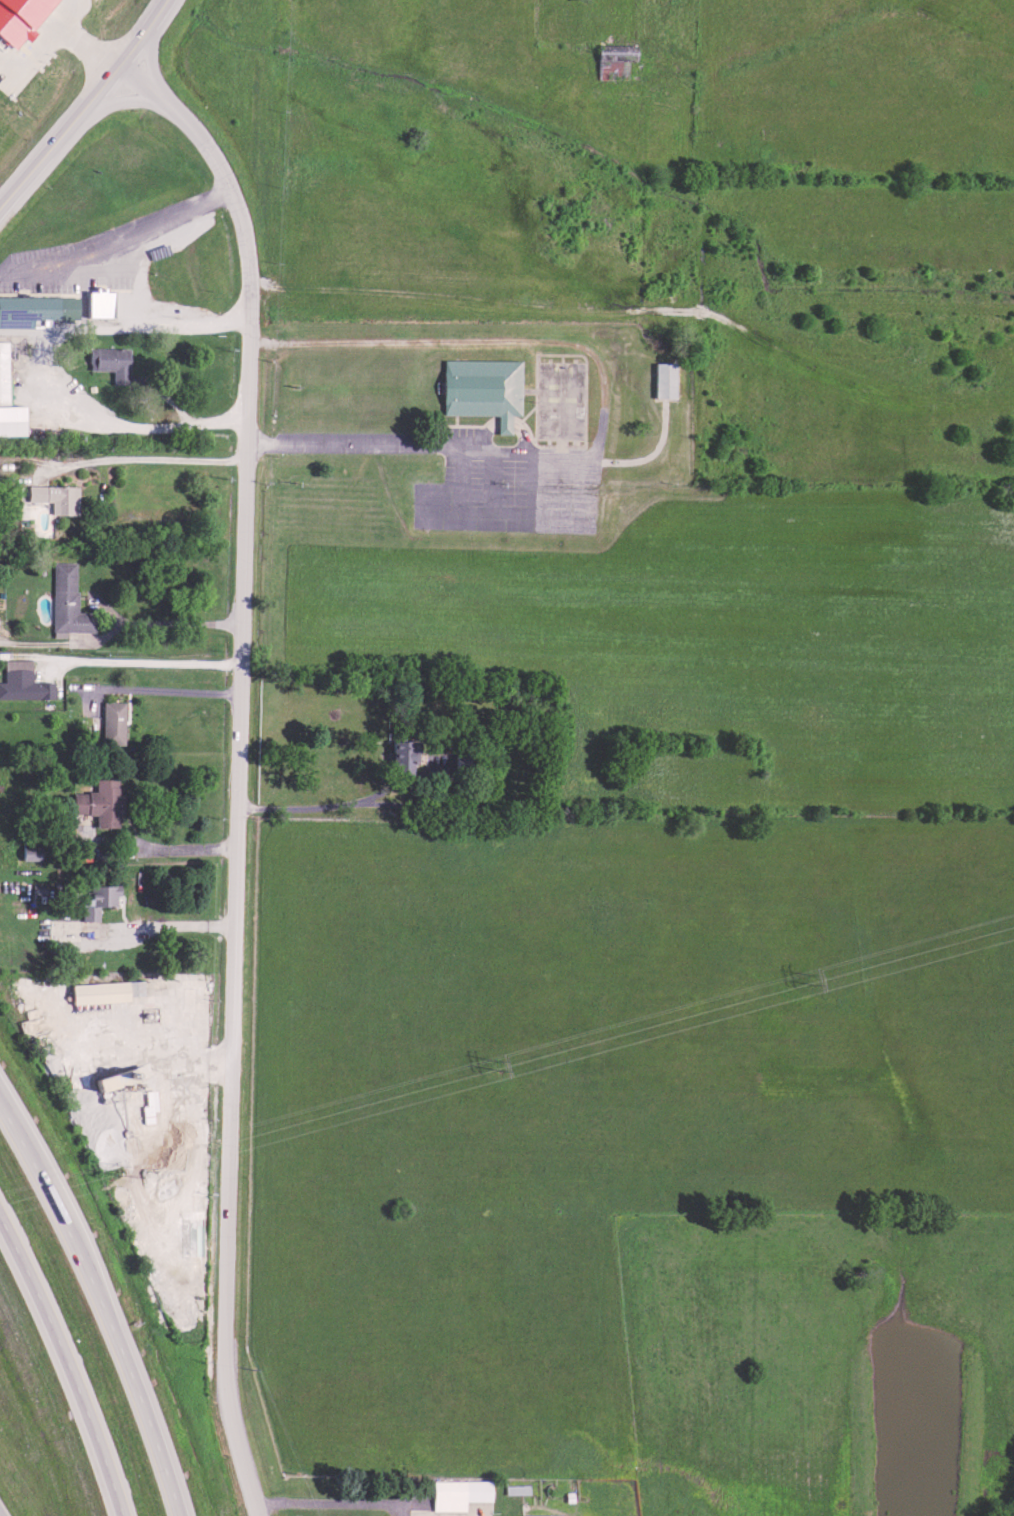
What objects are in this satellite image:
building: (17, 16)
road: (140, 32)
road: (81, 40)
road: (59, 138)
road: (119, 242)
building: (96, 300)
building: (29, 308)
building: (109, 360)
building: (3, 373)
building: (662, 377)
building: (482, 389)
road: (605, 404)
road: (123, 460)
building: (54, 494)
building: (67, 598)
road: (179, 626)
road: (149, 663)
building: (22, 679)
road: (163, 694)
building: (112, 719)
building: (400, 754)
road: (238, 769)
building: (98, 801)
road: (320, 811)
road: (164, 850)
building: (98, 898)
road: (143, 929)
power tower: (814, 983)
building: (102, 989)
power tower: (501, 1066)
building: (115, 1076)
road: (103, 1304)
road: (68, 1363)
building: (456, 1491)
road: (328, 1499)
building: (538, 1514)

